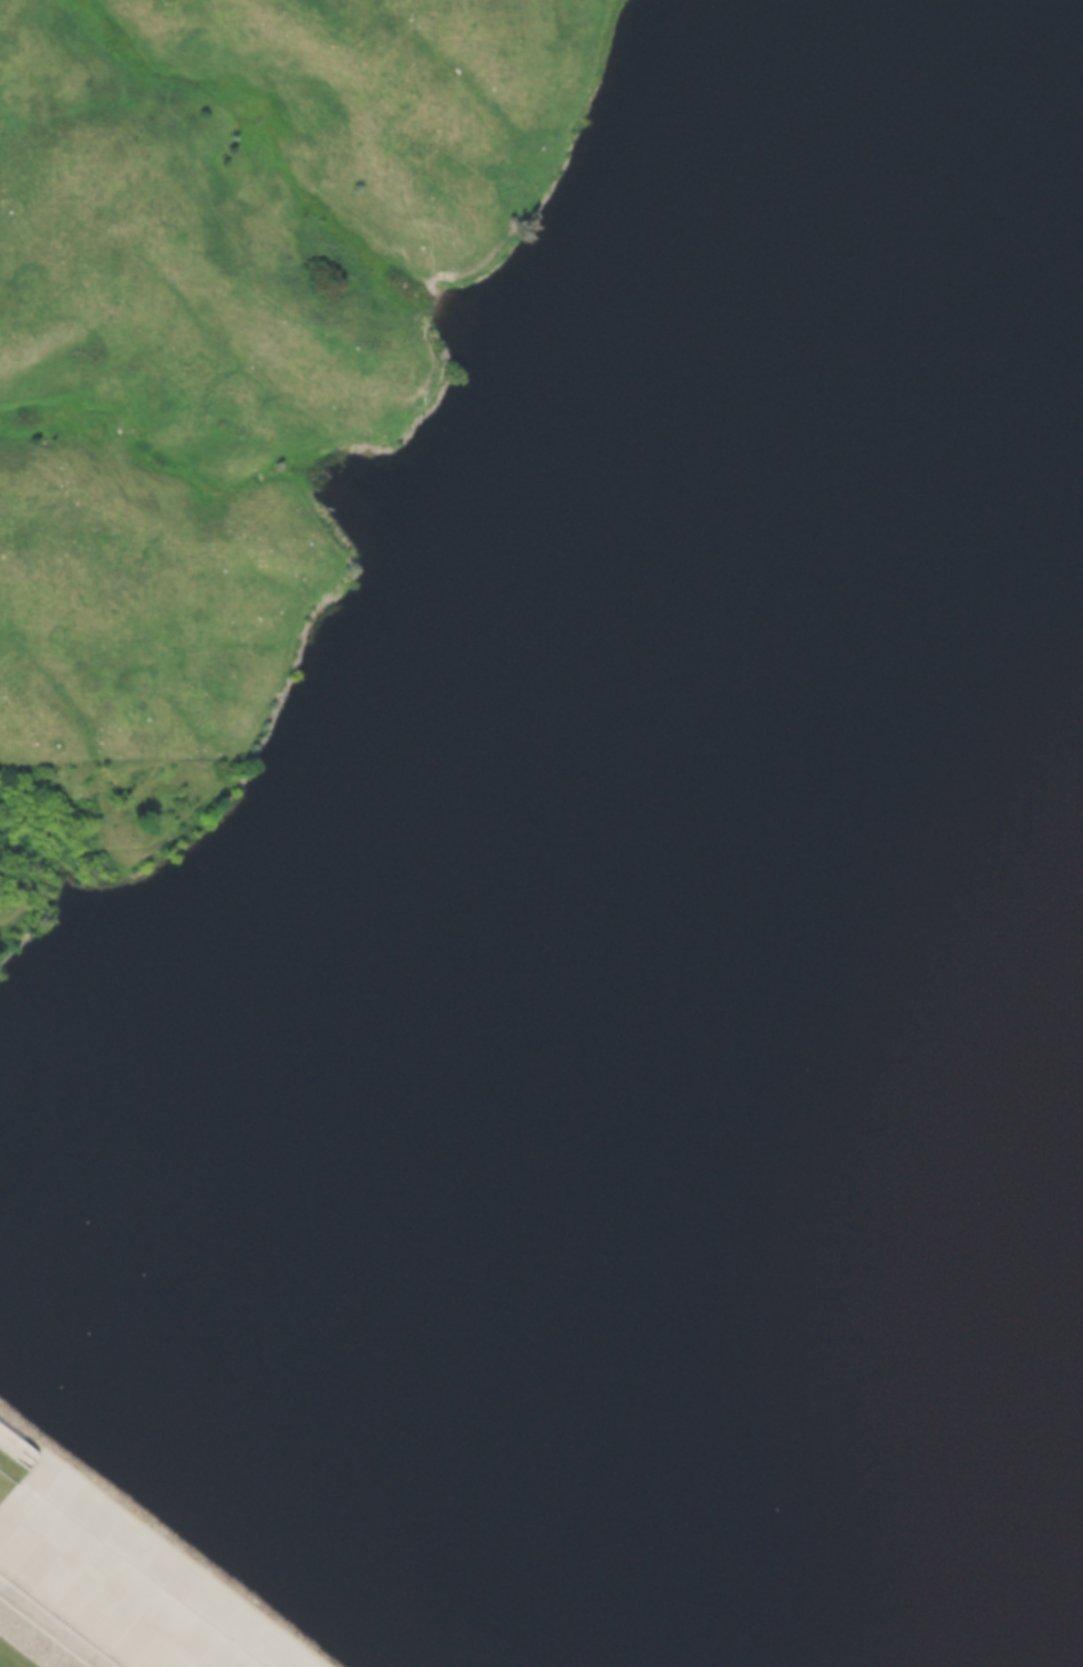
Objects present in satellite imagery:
road: (465, 268)
road: (268, 473)
road: (236, 736)
river: (541, 741)
dam: (113, 1581)

